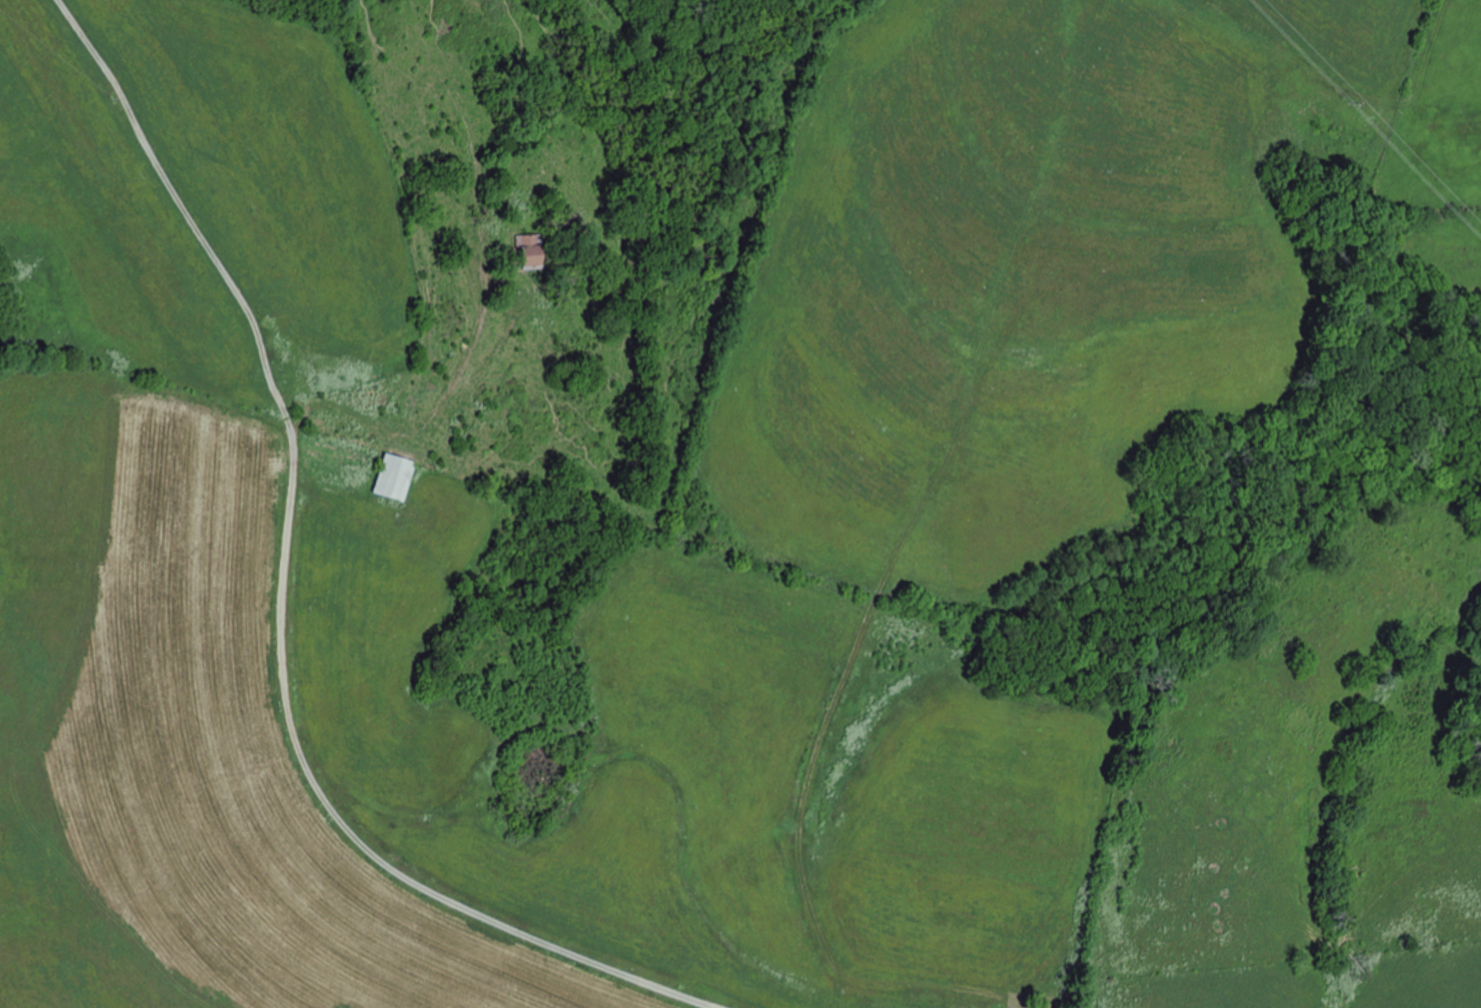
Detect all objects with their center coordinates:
building: (531, 251)
road: (433, 258)
road: (178, 394)
building: (396, 477)
road: (981, 798)
road: (410, 839)

